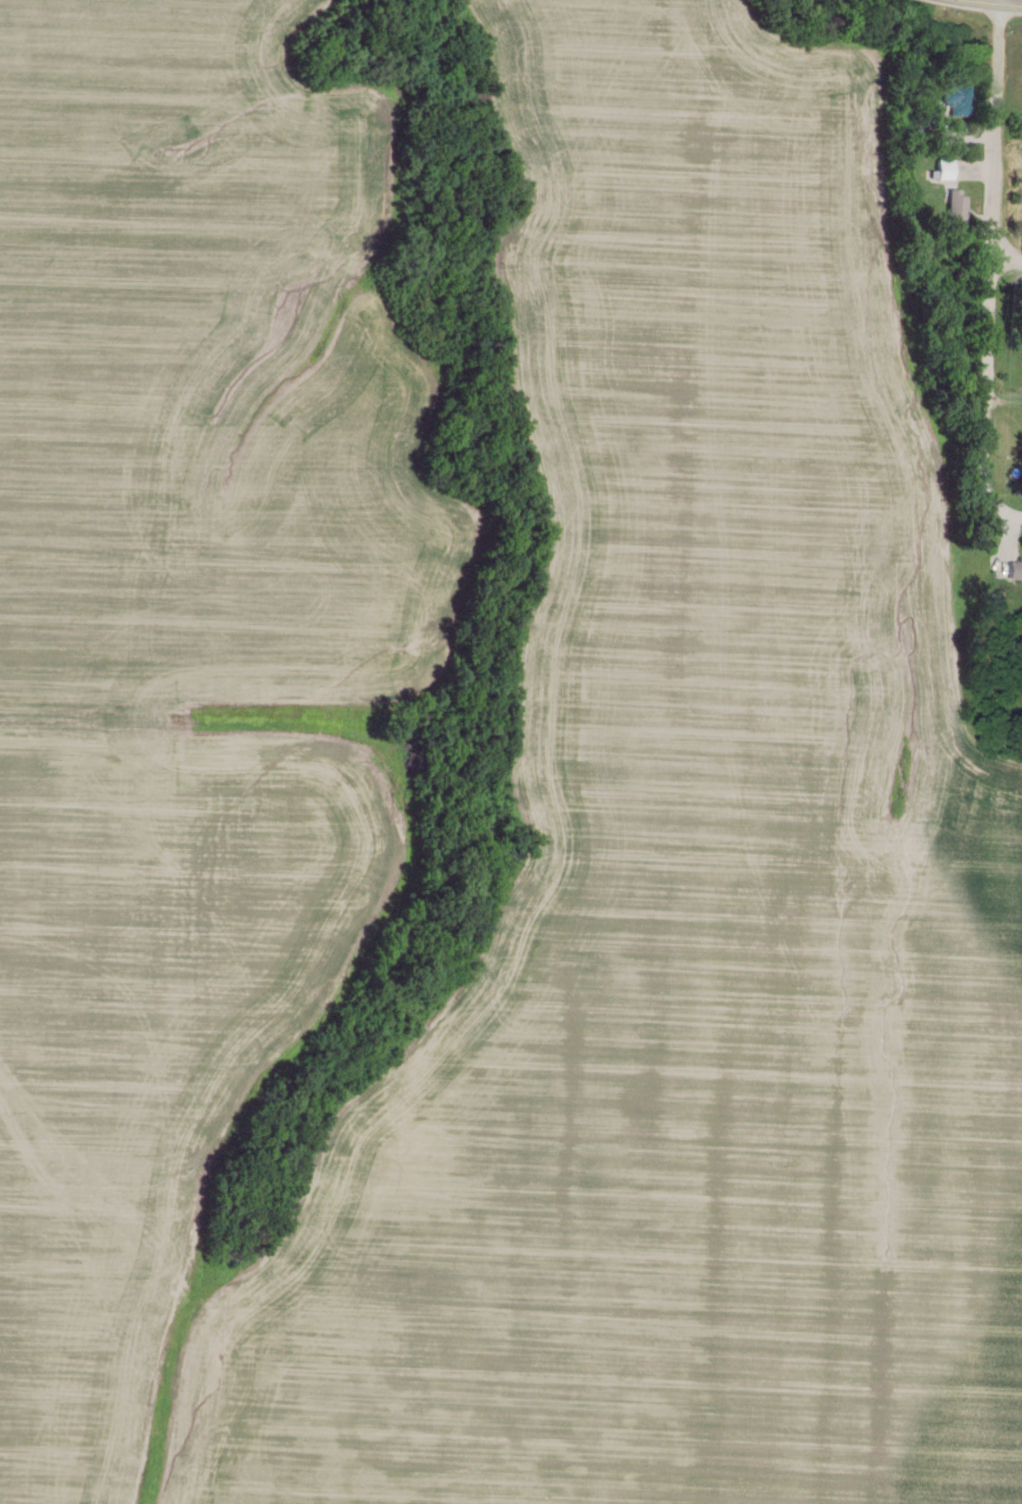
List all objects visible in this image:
road: (977, 3)
road: (997, 3)
road: (1009, 6)
building: (957, 101)
building: (945, 170)
building: (956, 210)
road: (1007, 268)
road: (992, 272)
building: (1015, 572)

